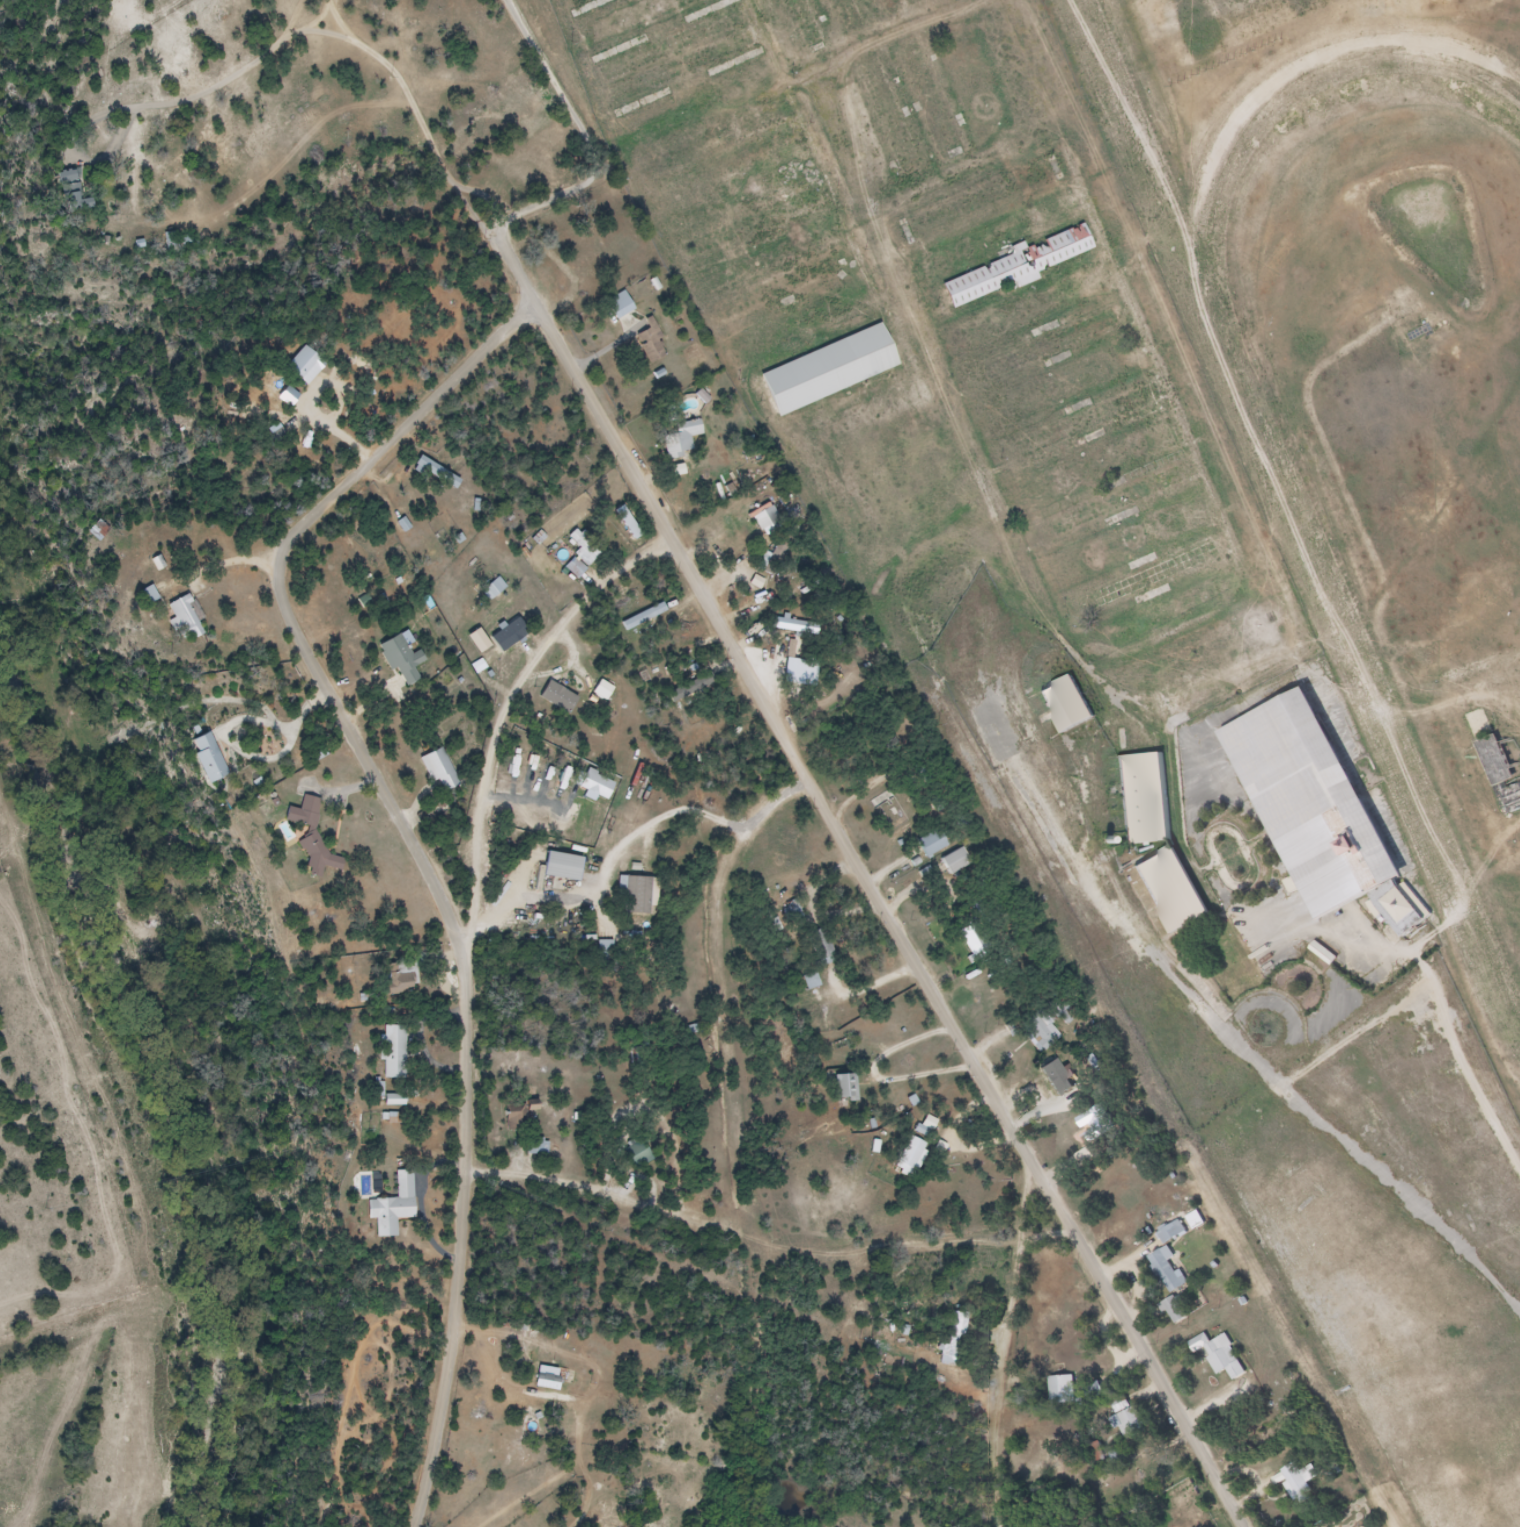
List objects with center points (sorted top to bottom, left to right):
building: (953, 0)
road: (317, 21)
road: (293, 22)
road: (411, 103)
road: (165, 105)
road: (585, 140)
building: (64, 190)
building: (1061, 250)
building: (622, 305)
building: (653, 346)
building: (299, 365)
building: (822, 368)
building: (281, 395)
track: (1403, 406)
building: (690, 430)
building: (431, 472)
building: (769, 521)
building: (90, 530)
building: (582, 557)
building: (154, 561)
building: (487, 587)
building: (496, 589)
building: (143, 592)
building: (154, 595)
building: (177, 617)
building: (793, 626)
building: (503, 632)
building: (471, 638)
building: (396, 657)
building: (599, 689)
building: (553, 696)
building: (1060, 702)
road: (504, 703)
building: (202, 755)
building: (433, 767)
building: (549, 785)
building: (593, 786)
building: (1135, 798)
building: (1318, 807)
road: (701, 814)
building: (315, 836)
building: (935, 843)
road: (427, 854)
building: (957, 861)
building: (565, 867)
road: (867, 871)
building: (1164, 887)
building: (640, 896)
building: (974, 940)
building: (824, 947)
building: (404, 981)
building: (1039, 1034)
road: (1221, 1034)
building: (396, 1052)
building: (848, 1088)
building: (1058, 1090)
building: (522, 1115)
building: (1096, 1123)
building: (915, 1154)
building: (396, 1206)
building: (1198, 1221)
building: (1173, 1233)
road: (1048, 1235)
building: (1169, 1270)
building: (1177, 1310)
road: (1003, 1336)
building: (956, 1337)
building: (1215, 1353)
building: (1058, 1389)
building: (1089, 1390)
building: (1124, 1421)
building: (1118, 1459)
building: (1294, 1482)

